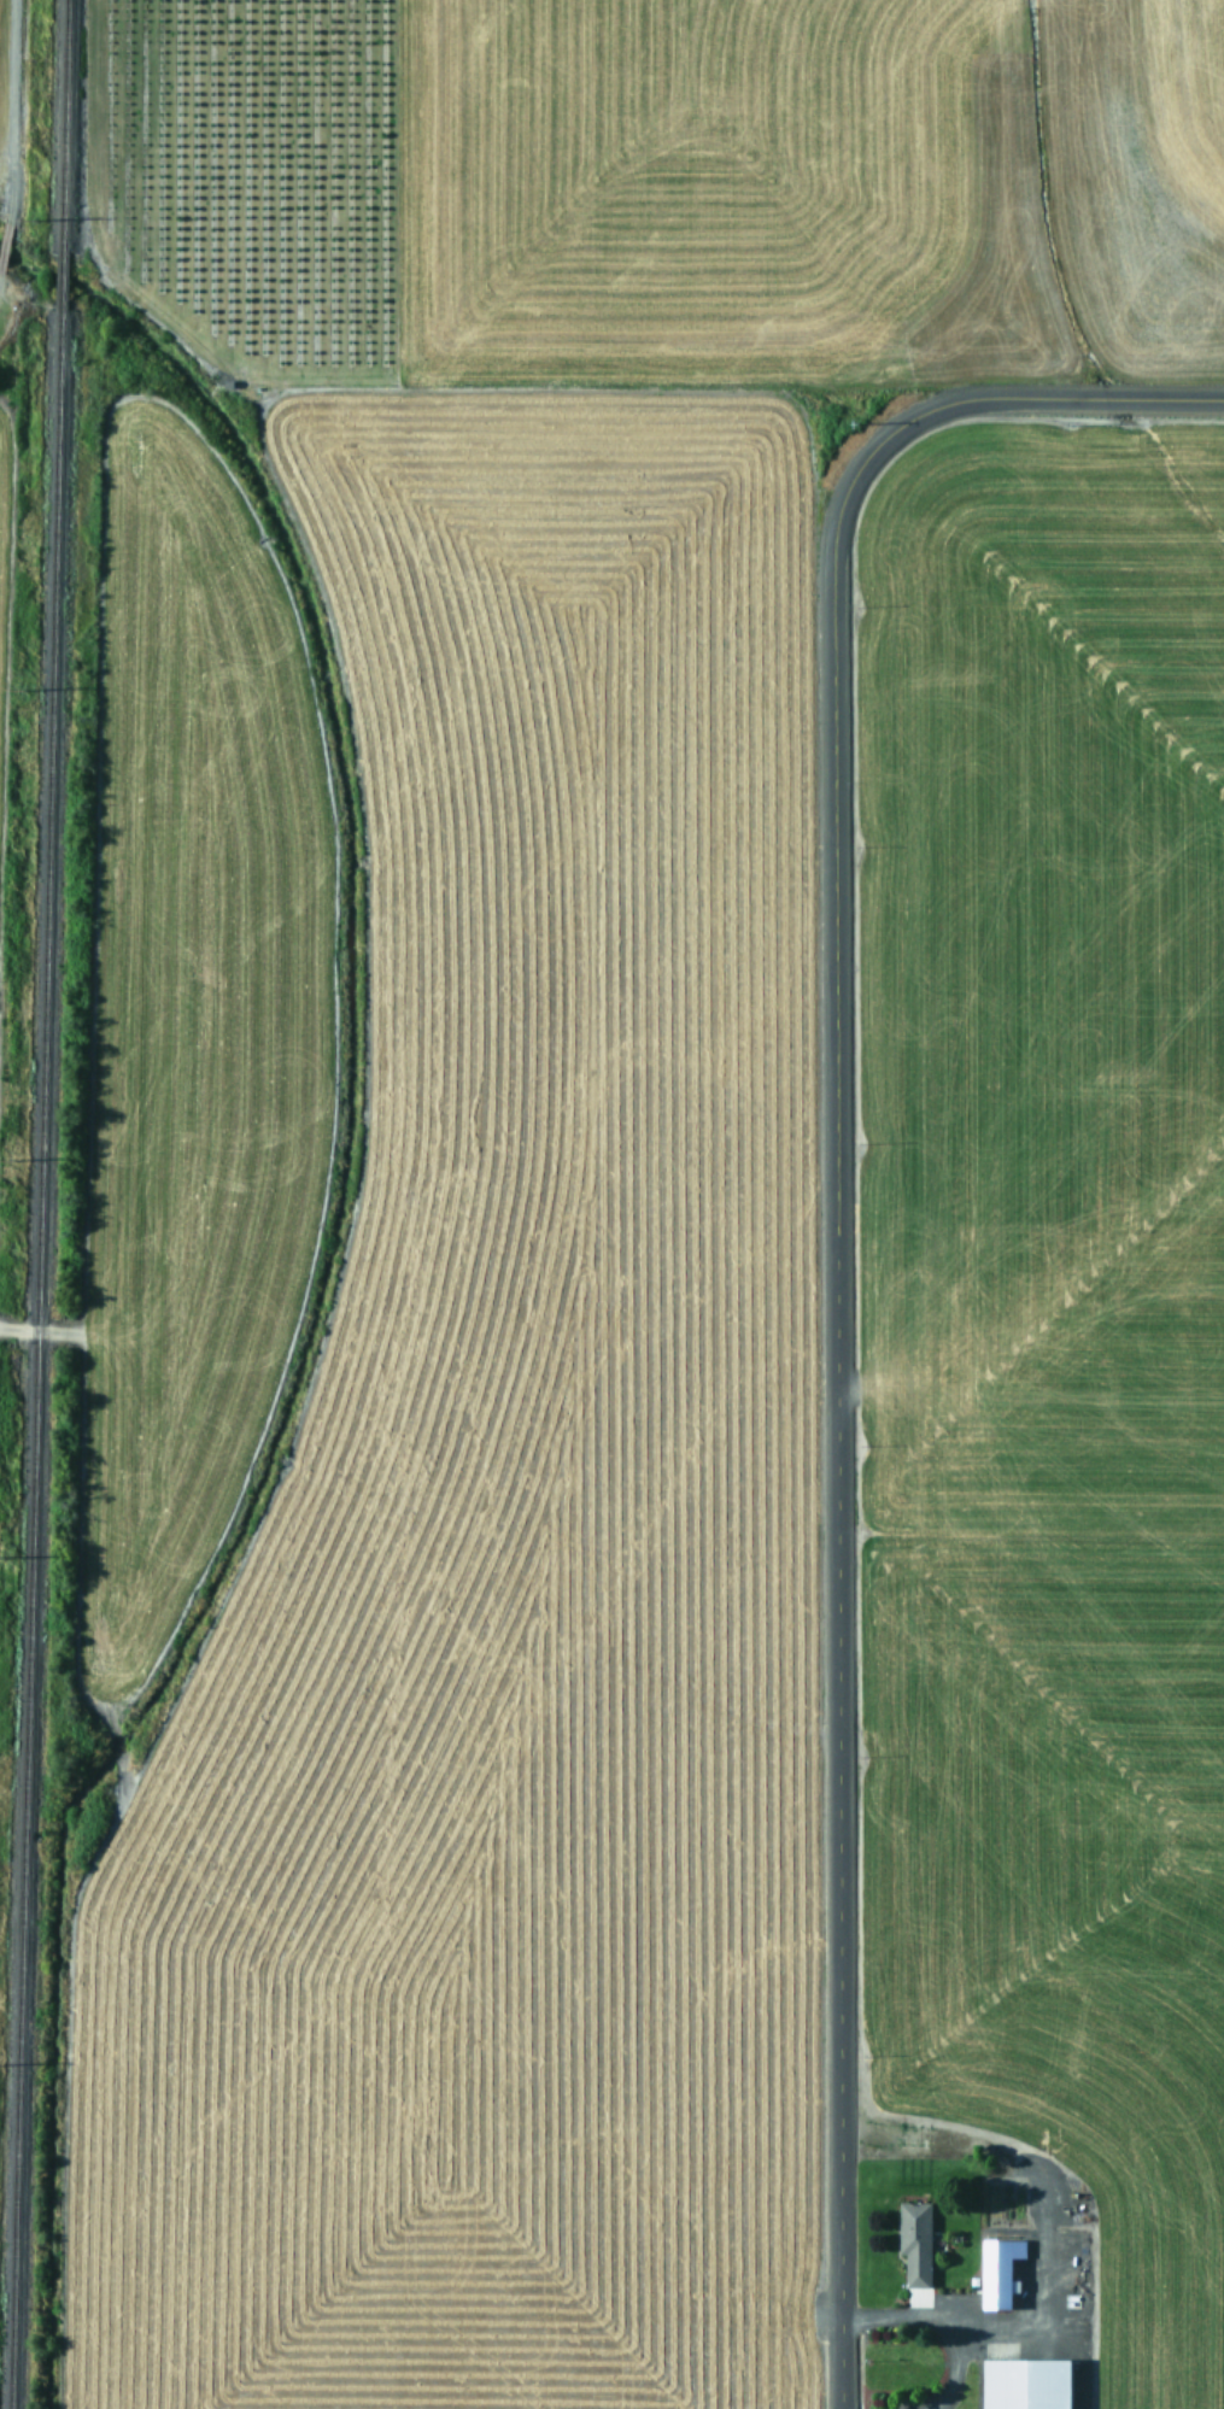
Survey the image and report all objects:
crop: (1, 61)
railway: (62, 125)
railway: (58, 283)
crop: (648, 1214)
road: (828, 1238)
railway: (35, 1362)
building: (1002, 2272)
building: (1030, 2384)

